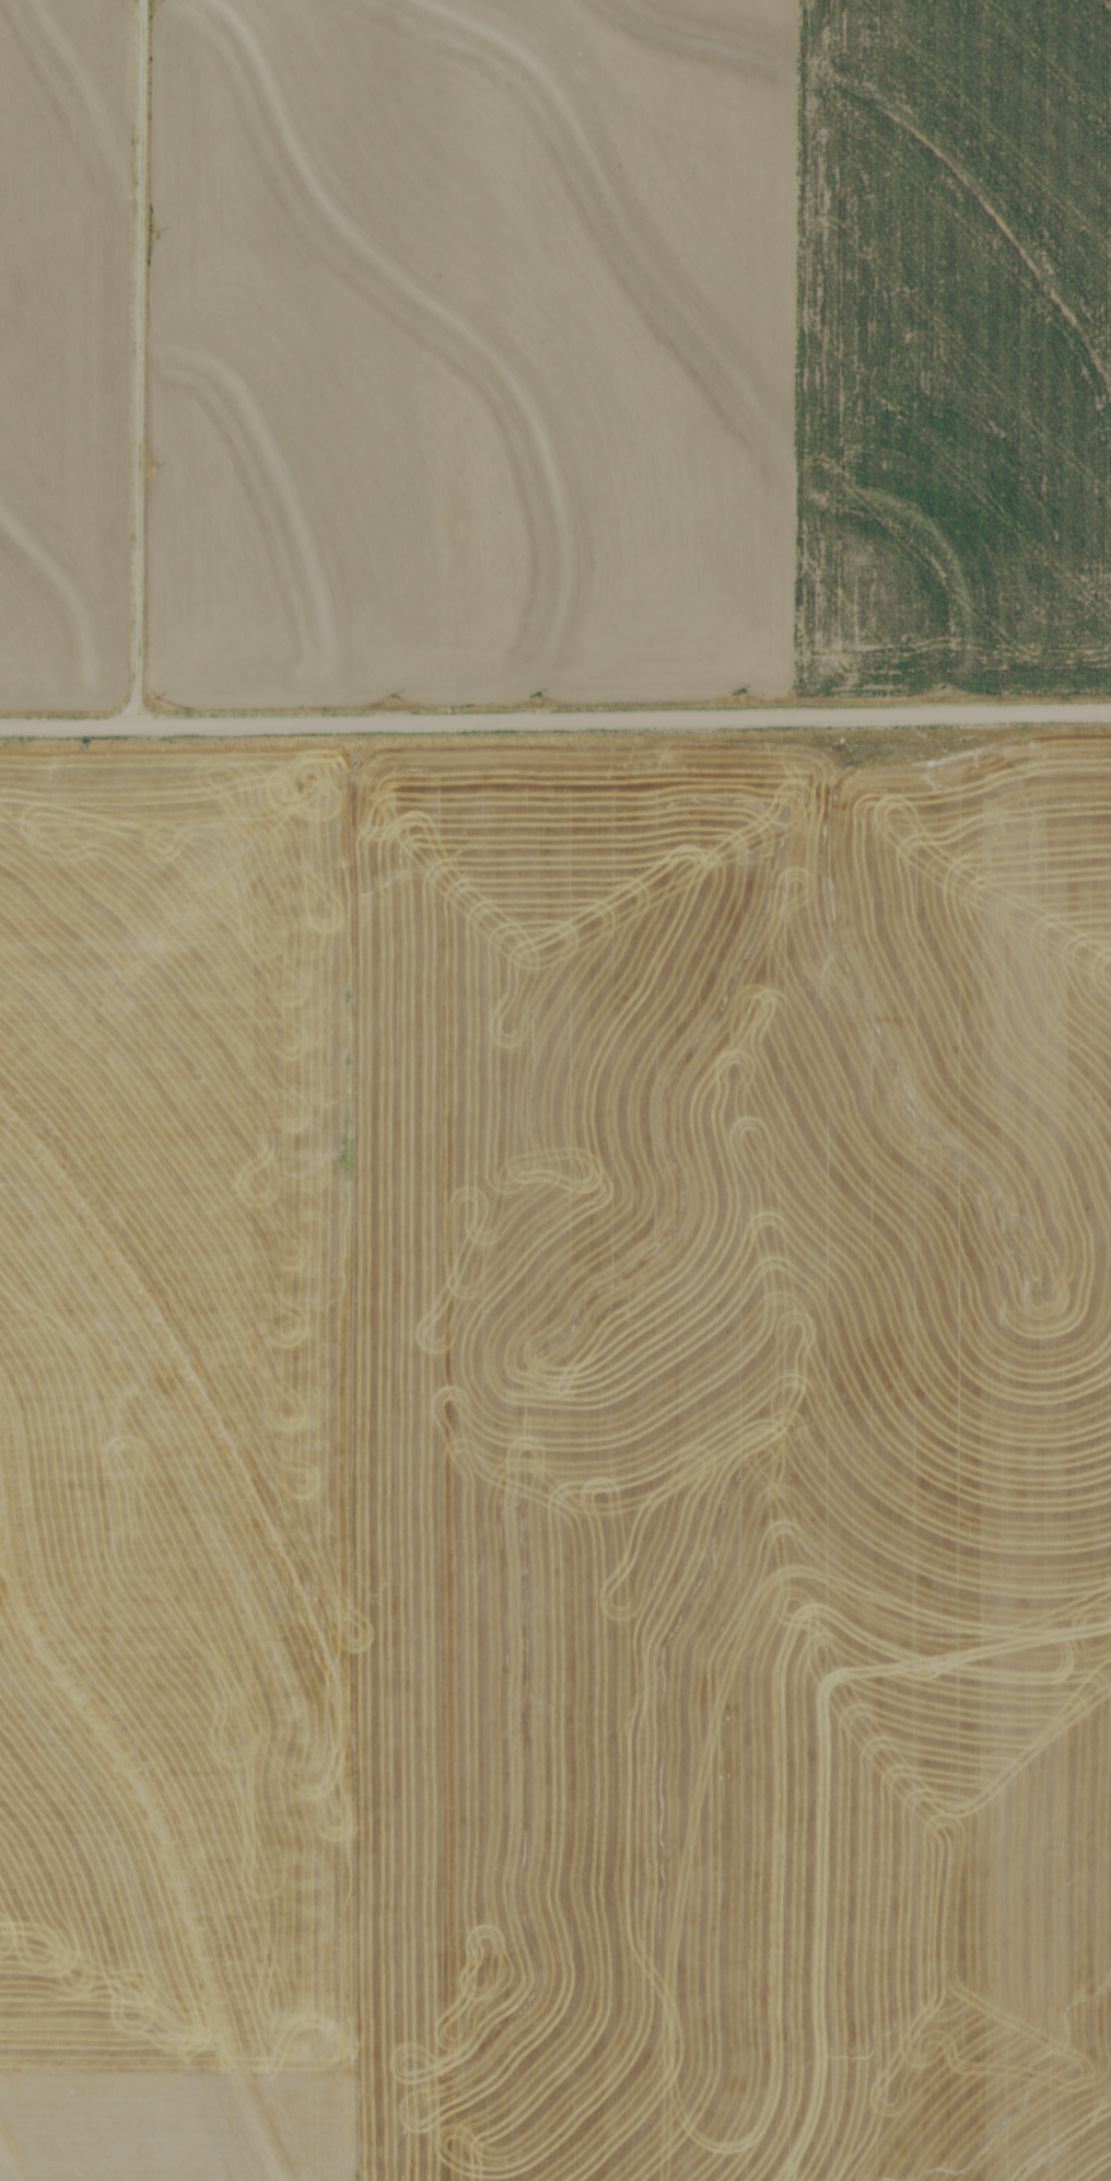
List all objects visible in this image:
road: (142, 362)
road: (554, 720)

